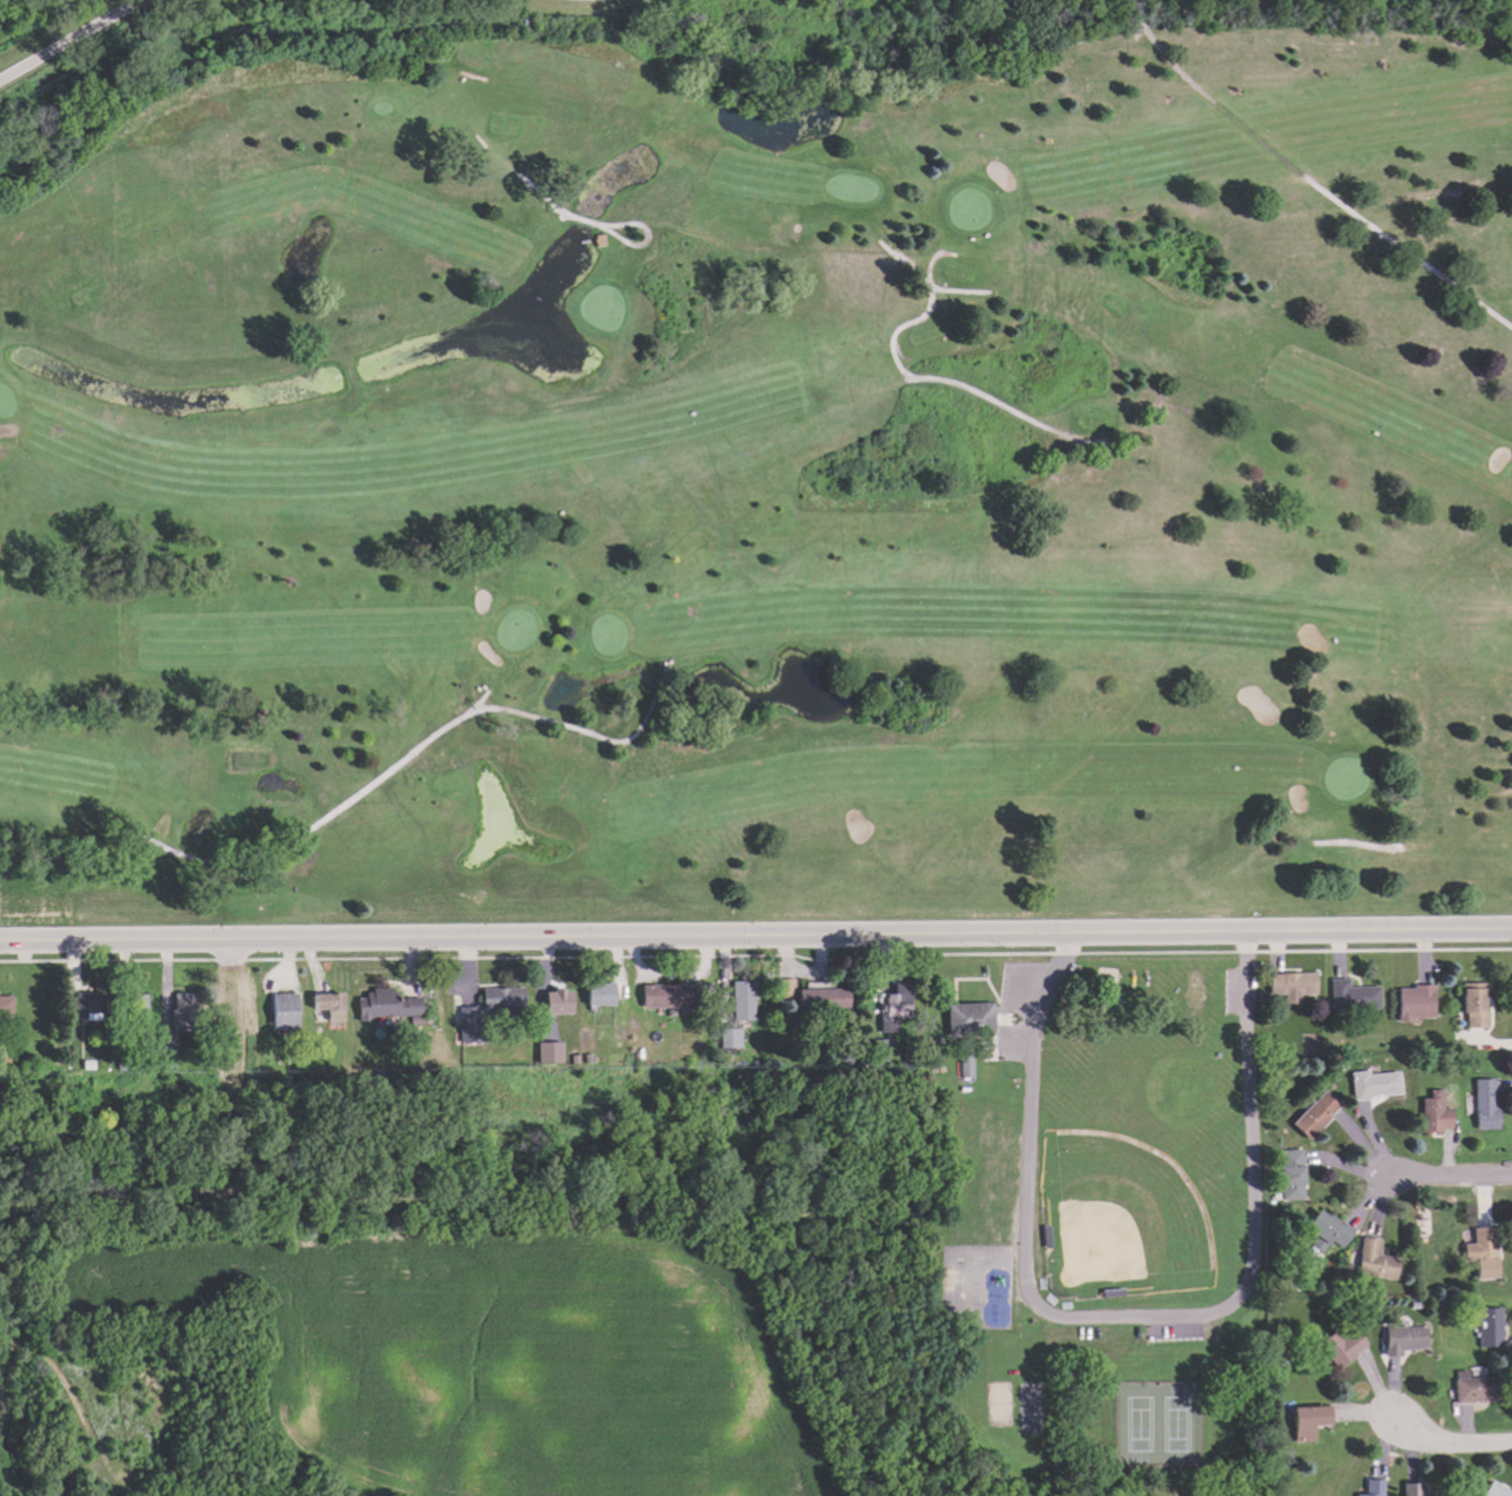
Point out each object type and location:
road: (69, 39)
building: (595, 238)
park: (775, 477)
road: (1387, 934)
road: (631, 940)
road: (1245, 948)
road: (1059, 955)
building: (1289, 985)
building: (783, 987)
building: (598, 993)
building: (667, 995)
building: (1350, 995)
building: (501, 997)
building: (821, 998)
building: (740, 999)
building: (557, 1000)
building: (1412, 1001)
building: (327, 1003)
building: (1471, 1003)
building: (5, 1004)
building: (384, 1004)
building: (85, 1005)
building: (893, 1007)
building: (132, 1009)
building: (181, 1010)
building: (282, 1010)
building: (1223, 1011)
building: (467, 1015)
building: (967, 1018)
building: (413, 1019)
building: (727, 1036)
building: (165, 1044)
building: (878, 1049)
building: (548, 1051)
building: (127, 1054)
building: (905, 1055)
building: (573, 1057)
building: (586, 1057)
building: (844, 1058)
building: (719, 1059)
building: (767, 1060)
building: (87, 1063)
building: (119, 1064)
building: (962, 1065)
building: (1371, 1083)
building: (1482, 1105)
building: (1313, 1113)
building: (1432, 1113)
building: (1289, 1175)
road: (1451, 1181)
park: (1102, 1212)
building: (1325, 1232)
road: (1255, 1241)
building: (1480, 1252)
building: (1373, 1260)
building: (1266, 1287)
building: (1320, 1287)
building: (1275, 1326)
building: (1487, 1328)
building: (1402, 1339)
building: (1340, 1346)
building: (1280, 1350)
crop: (495, 1356)
building: (1474, 1387)
building: (1306, 1421)
road: (1450, 1446)
crop: (1109, 1488)
building: (1371, 1488)
building: (1411, 1489)
building: (1492, 1489)

